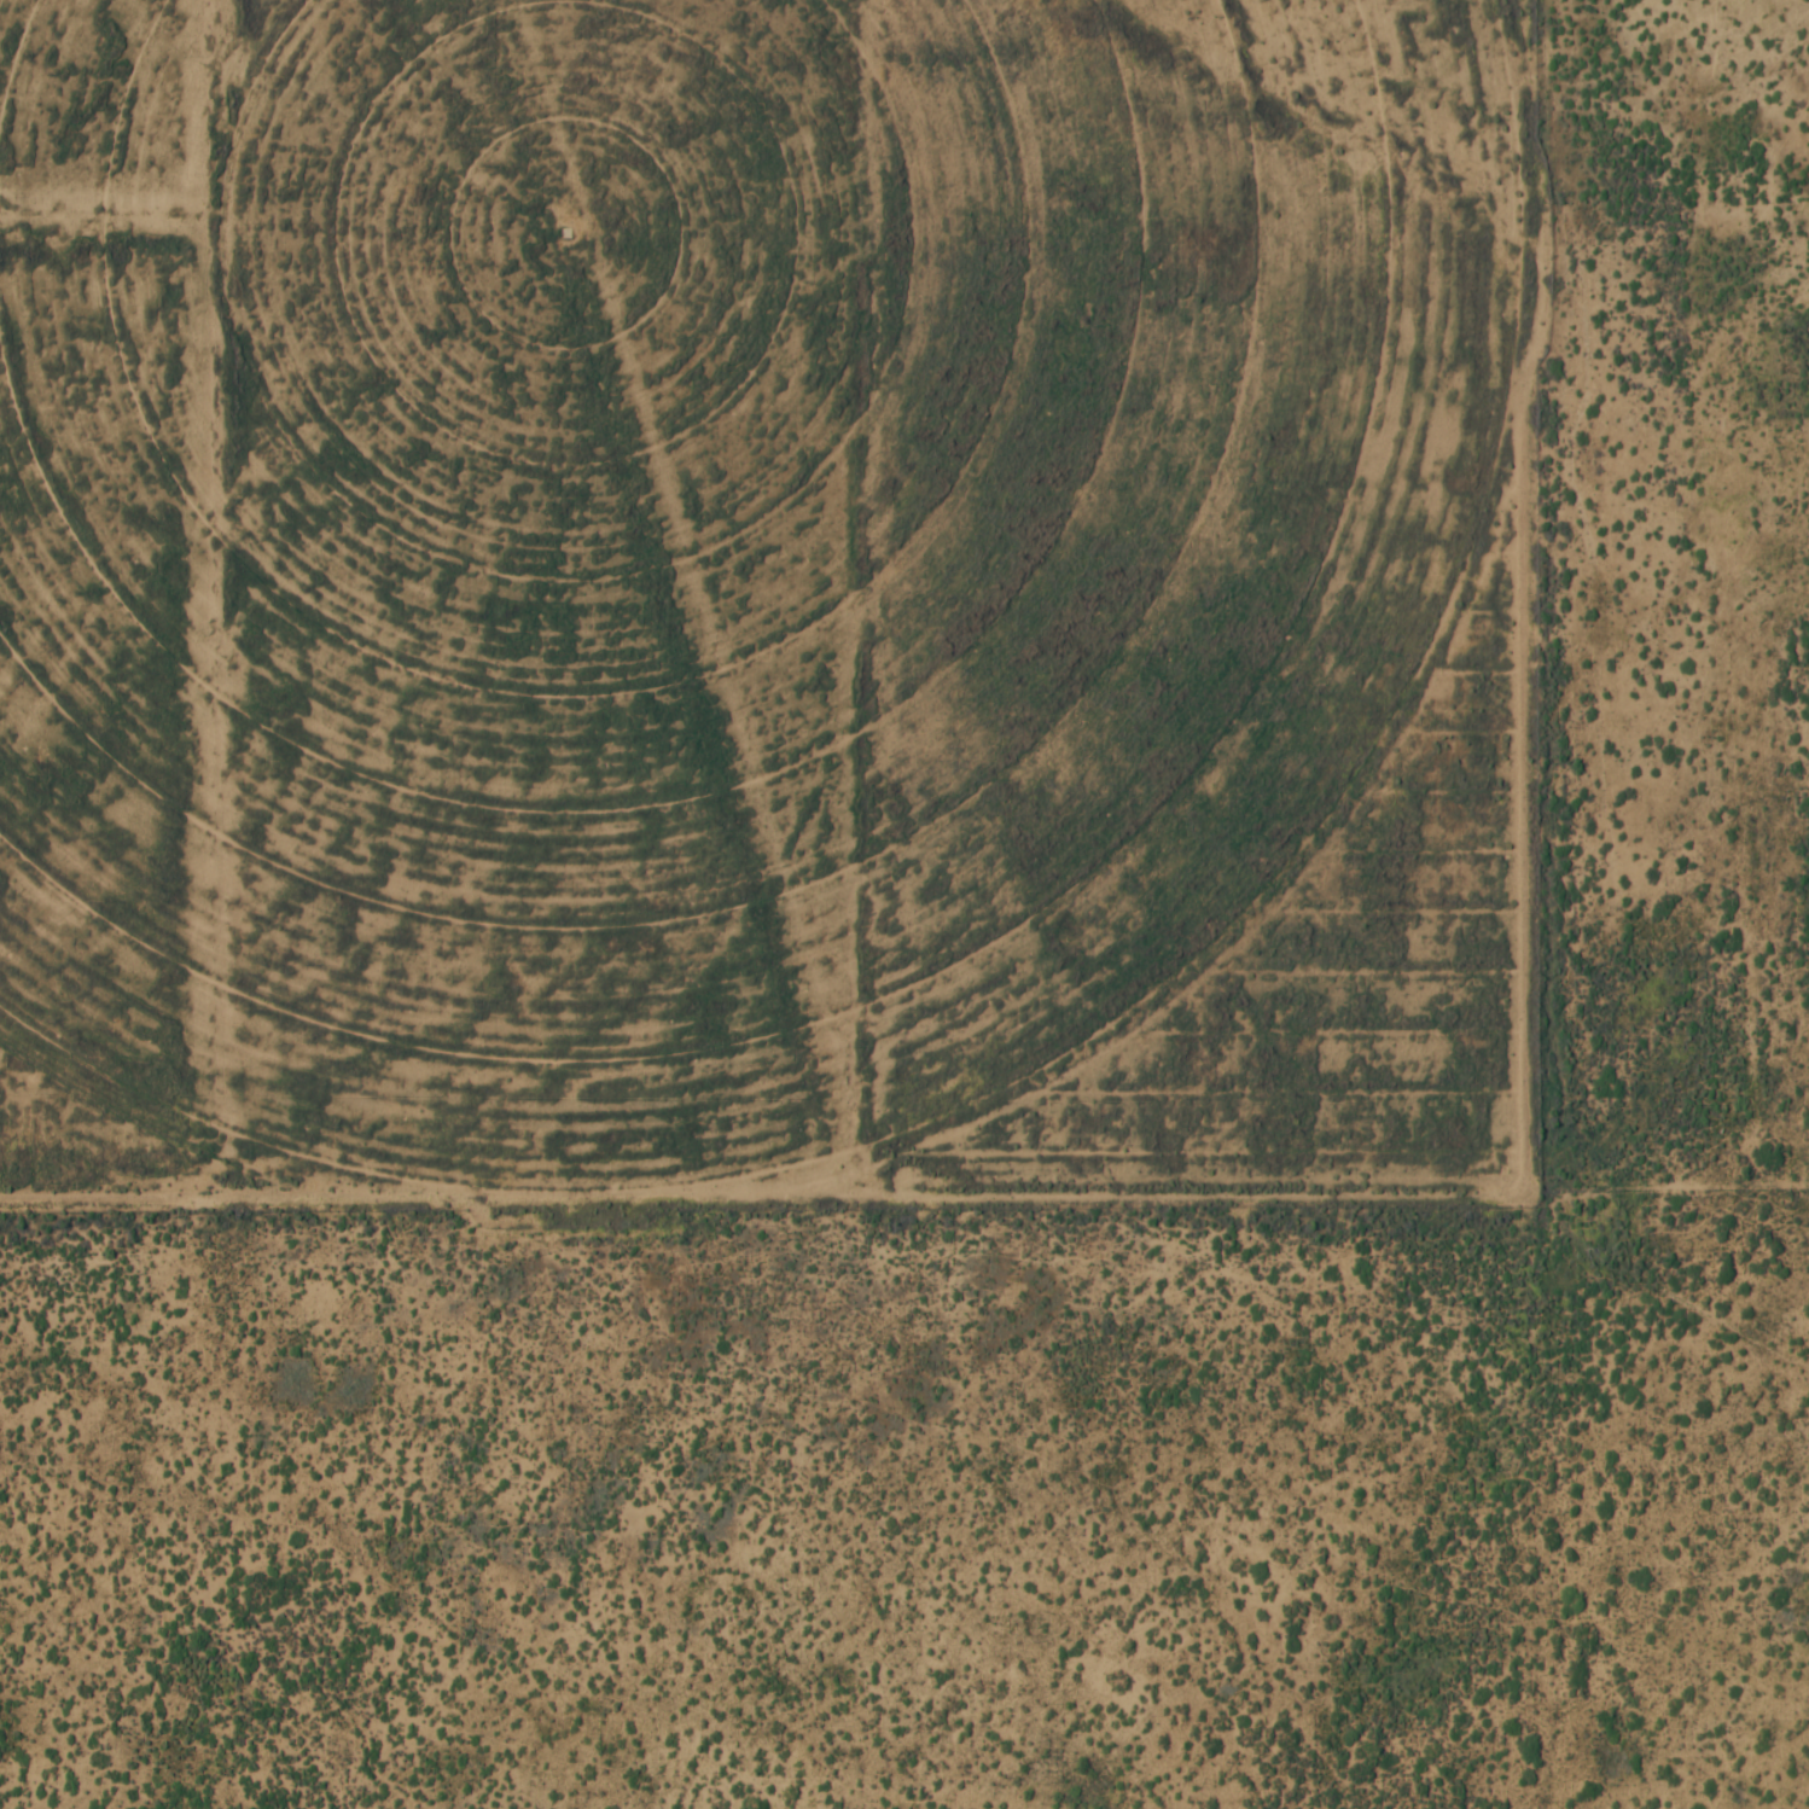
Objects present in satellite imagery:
road: (1571, 901)

